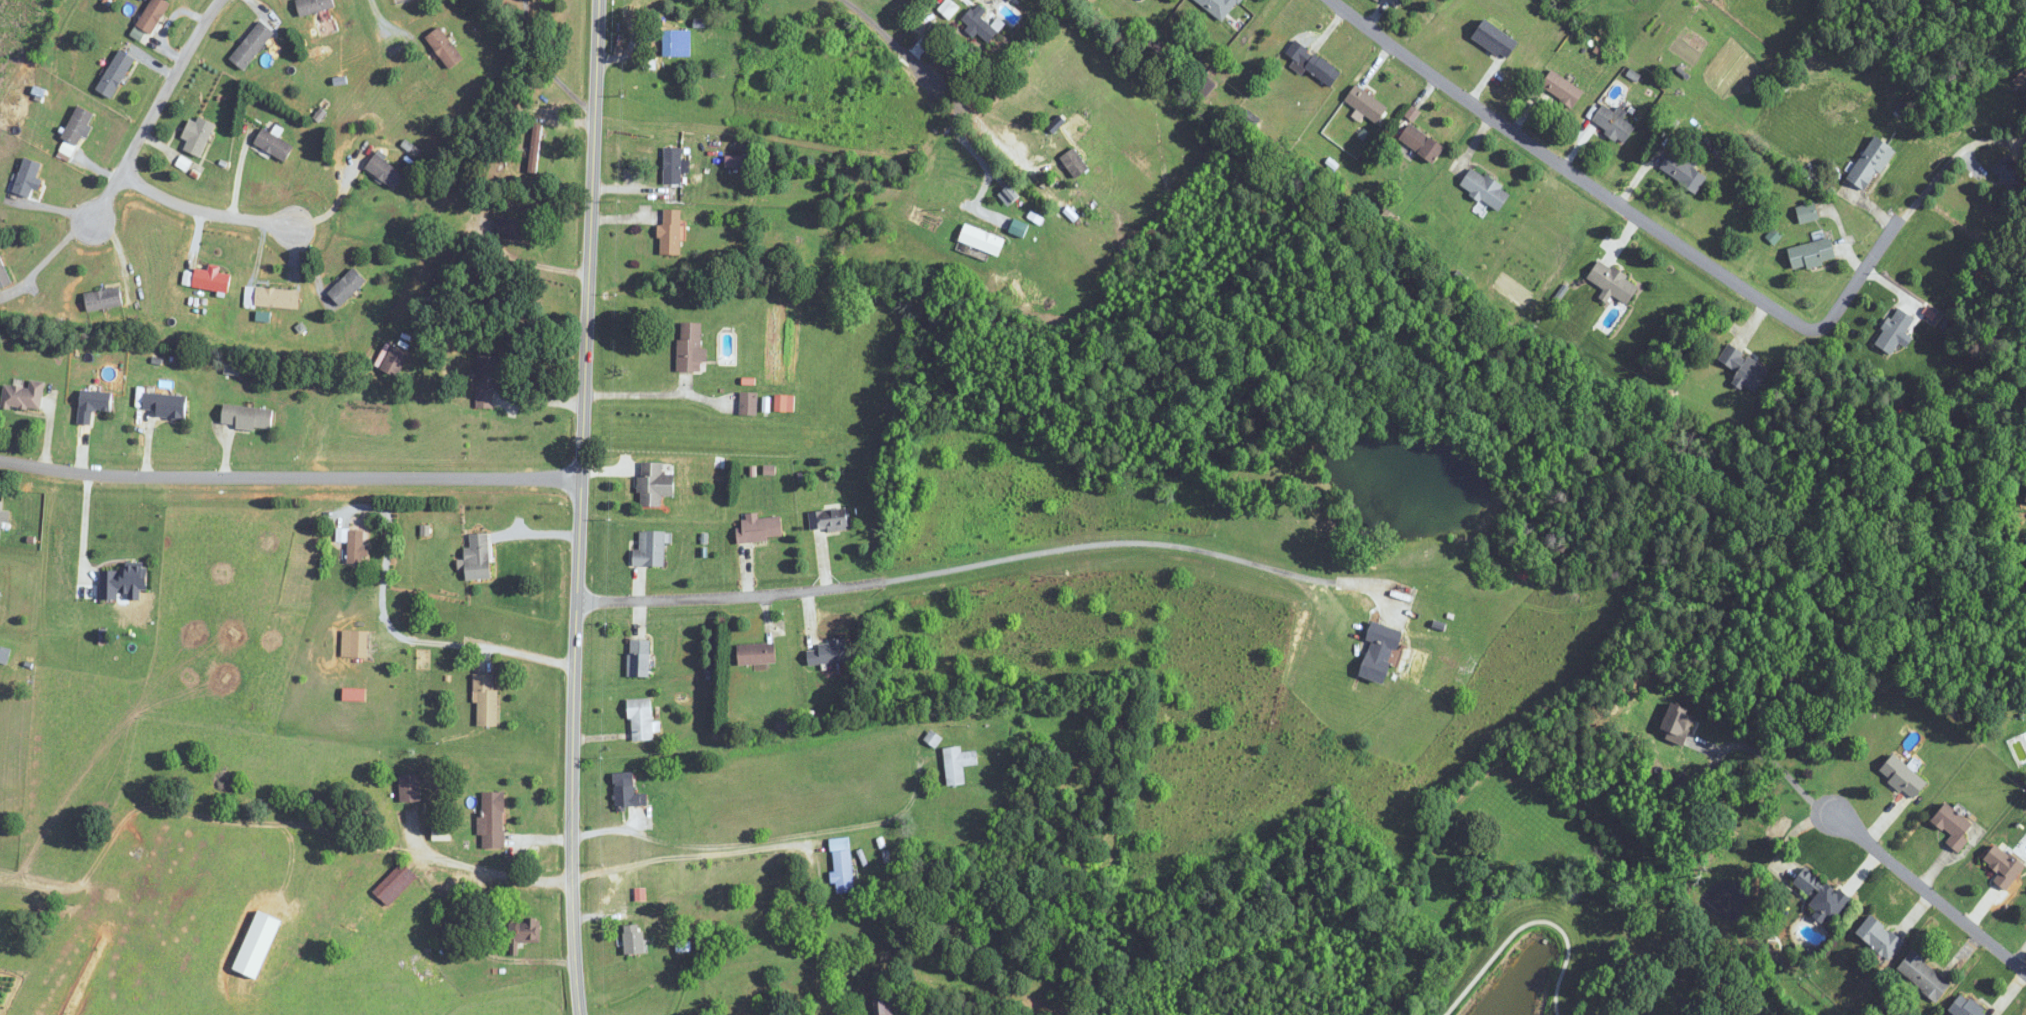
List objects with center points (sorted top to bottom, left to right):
building: (314, 5)
building: (1219, 7)
building: (153, 15)
road: (380, 19)
building: (980, 23)
building: (1496, 39)
building: (677, 42)
building: (252, 44)
building: (444, 47)
building: (1312, 63)
road: (542, 64)
building: (115, 73)
building: (2021, 77)
building: (1562, 88)
road: (959, 97)
building: (1366, 103)
road: (155, 111)
building: (1614, 122)
building: (78, 126)
building: (197, 135)
building: (1421, 142)
building: (274, 144)
building: (535, 148)
building: (1871, 162)
building: (1075, 163)
building: (672, 165)
road: (987, 167)
building: (385, 170)
building: (2009, 171)
building: (1683, 172)
building: (28, 179)
building: (1486, 188)
road: (335, 202)
road: (202, 212)
building: (1807, 213)
road: (1647, 221)
building: (517, 228)
building: (670, 231)
building: (982, 239)
building: (1812, 253)
road: (45, 259)
road: (529, 262)
building: (4, 275)
building: (212, 279)
building: (1613, 283)
building: (344, 289)
building: (277, 297)
building: (103, 298)
building: (1896, 331)
building: (690, 347)
building: (394, 360)
building: (1745, 367)
building: (487, 379)
road: (660, 393)
building: (23, 396)
building: (747, 403)
building: (780, 403)
building: (93, 404)
building: (166, 405)
building: (247, 417)
road: (290, 478)
building: (654, 484)
road: (581, 507)
building: (0, 517)
building: (828, 520)
road: (85, 523)
building: (759, 528)
building: (354, 544)
building: (650, 549)
building: (478, 557)
road: (982, 564)
building: (121, 580)
road: (404, 638)
building: (354, 643)
building: (830, 652)
building: (1381, 652)
building: (757, 653)
building: (639, 657)
building: (486, 700)
building: (641, 719)
building: (1679, 723)
building: (958, 764)
road: (1779, 768)
building: (1903, 777)
building: (409, 788)
building: (627, 792)
building: (492, 819)
building: (1955, 826)
building: (437, 832)
road: (764, 838)
road: (698, 856)
building: (842, 864)
building: (2004, 866)
road: (493, 869)
building: (395, 884)
road: (1929, 894)
building: (1821, 895)
road: (1529, 924)
building: (524, 931)
building: (1879, 937)
building: (634, 939)
building: (429, 969)
building: (1924, 976)
building: (465, 983)
building: (882, 1004)
building: (1965, 1008)

